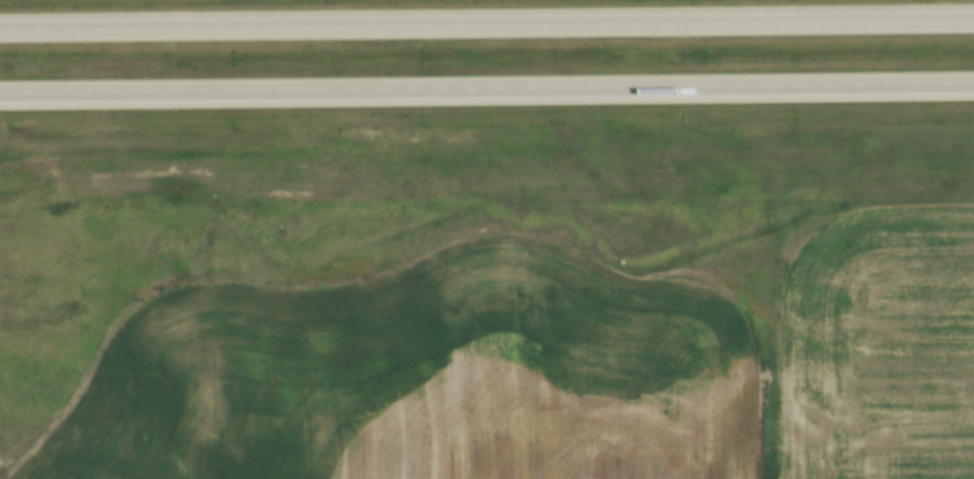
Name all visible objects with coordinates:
road: (487, 22)
road: (487, 90)

